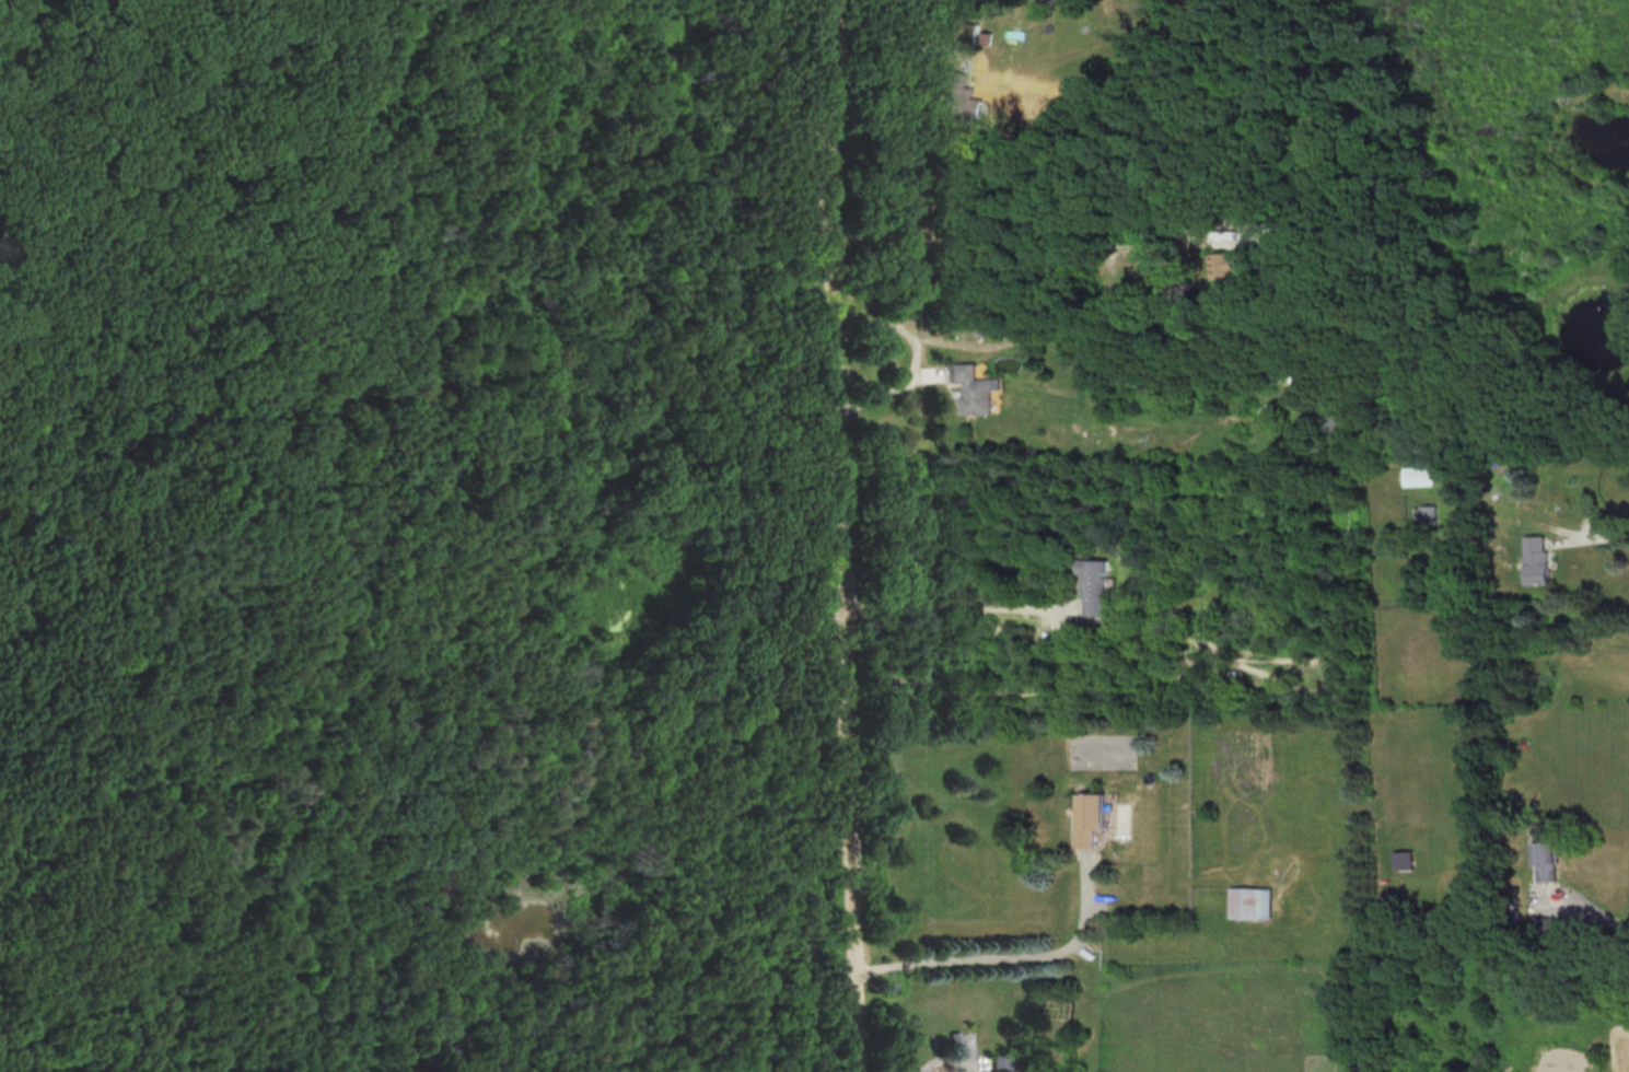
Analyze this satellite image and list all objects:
building: (970, 31)
road: (892, 35)
building: (965, 100)
road: (1008, 256)
road: (1063, 333)
road: (897, 387)
building: (977, 388)
building: (1334, 411)
building: (1420, 477)
building: (1430, 515)
road: (1611, 535)
road: (843, 536)
park: (414, 539)
building: (1540, 561)
building: (1097, 587)
road: (955, 606)
building: (1237, 680)
building: (1097, 818)
building: (1543, 852)
building: (1400, 860)
building: (1243, 902)
road: (1607, 914)
road: (1005, 970)
building: (1010, 1062)

